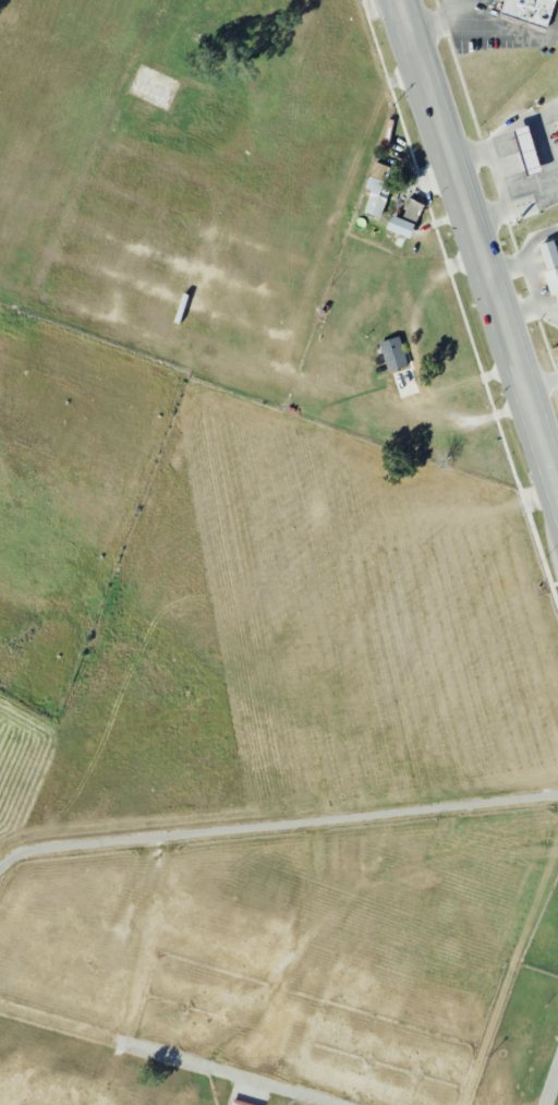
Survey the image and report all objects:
building: (529, 11)
road: (445, 22)
road: (544, 147)
building: (526, 151)
road: (499, 173)
building: (377, 189)
building: (404, 219)
road: (480, 245)
building: (550, 266)
building: (392, 353)
road: (541, 381)
road: (277, 826)
road: (510, 972)
road: (167, 1055)
road: (551, 1085)
road: (250, 1093)
building: (238, 1102)

